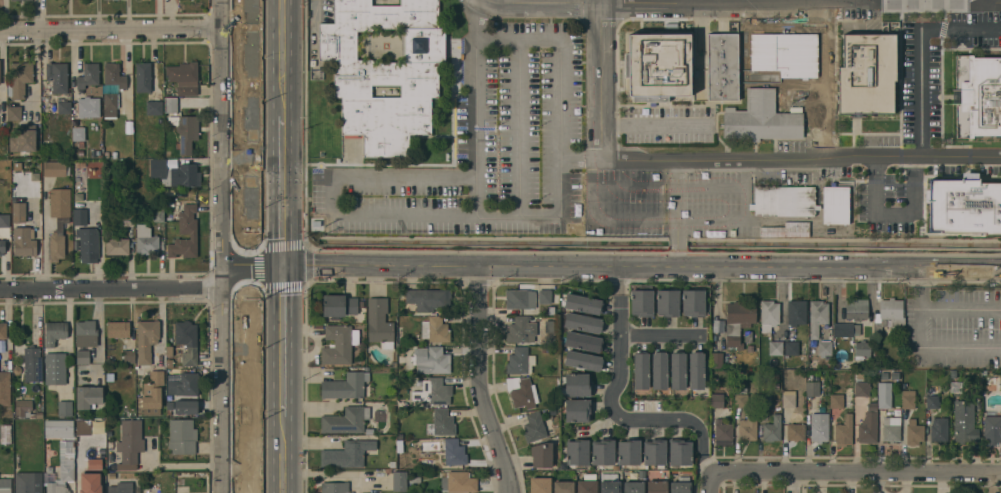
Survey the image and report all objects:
building: (13, 0)
road: (687, 2)
road: (978, 2)
road: (744, 4)
road: (5, 15)
road: (112, 30)
road: (496, 36)
road: (560, 36)
road: (921, 52)
road: (282, 59)
building: (659, 66)
building: (722, 66)
building: (385, 72)
building: (867, 73)
building: (89, 75)
building: (114, 75)
building: (143, 77)
building: (184, 77)
building: (20, 79)
road: (826, 79)
building: (59, 84)
building: (978, 96)
building: (111, 100)
building: (170, 105)
building: (89, 107)
building: (154, 108)
building: (14, 113)
building: (701, 114)
building: (760, 118)
road: (654, 124)
road: (225, 131)
road: (475, 132)
building: (187, 133)
building: (79, 135)
building: (24, 138)
building: (80, 153)
building: (106, 153)
building: (122, 153)
building: (45, 154)
building: (114, 155)
road: (580, 156)
road: (725, 156)
building: (56, 169)
building: (174, 173)
road: (633, 186)
road: (282, 191)
building: (77, 192)
road: (330, 195)
building: (980, 200)
building: (784, 201)
building: (837, 205)
building: (6, 210)
building: (19, 212)
road: (677, 212)
road: (892, 213)
building: (157, 214)
building: (80, 217)
road: (602, 218)
building: (127, 219)
building: (4, 220)
building: (58, 221)
building: (188, 226)
building: (784, 229)
road: (44, 238)
building: (146, 241)
building: (23, 242)
building: (88, 244)
building: (117, 246)
building: (2, 247)
road: (254, 264)
traffic signals: (283, 265)
road: (642, 267)
road: (112, 287)
building: (544, 297)
building: (516, 298)
building: (428, 299)
building: (641, 301)
building: (667, 302)
building: (693, 302)
building: (582, 304)
building: (339, 305)
building: (856, 309)
road: (960, 309)
building: (796, 313)
building: (888, 314)
building: (768, 315)
building: (817, 317)
building: (738, 321)
building: (379, 322)
building: (582, 323)
parking lot: (953, 328)
building: (117, 329)
building: (525, 329)
building: (845, 329)
building: (2, 330)
building: (435, 330)
building: (55, 332)
building: (86, 333)
road: (662, 336)
building: (146, 340)
building: (187, 341)
road: (283, 341)
building: (582, 342)
building: (337, 345)
building: (793, 345)
building: (824, 347)
building: (775, 348)
road: (920, 348)
building: (862, 350)
building: (169, 351)
building: (82, 357)
building: (128, 357)
building: (434, 360)
building: (716, 360)
building: (520, 361)
building: (582, 361)
building: (169, 363)
building: (32, 364)
building: (16, 368)
building: (55, 368)
building: (659, 370)
building: (677, 370)
building: (696, 370)
building: (641, 371)
road: (225, 378)
road: (479, 381)
building: (1000, 383)
building: (183, 384)
building: (577, 385)
building: (345, 386)
building: (5, 388)
building: (433, 392)
building: (522, 392)
building: (152, 393)
building: (811, 393)
building: (88, 396)
building: (788, 398)
building: (932, 398)
building: (907, 399)
building: (764, 400)
building: (716, 401)
building: (740, 401)
building: (22, 407)
building: (185, 407)
road: (614, 407)
building: (64, 409)
building: (871, 409)
building: (577, 410)
building: (835, 410)
building: (880, 413)
building: (39, 414)
building: (32, 415)
building: (345, 420)
building: (442, 422)
building: (964, 422)
building: (101, 423)
building: (88, 427)
building: (534, 427)
building: (748, 427)
building: (59, 428)
building: (772, 428)
building: (992, 429)
building: (818, 430)
building: (939, 430)
building: (795, 432)
building: (914, 432)
building: (5, 433)
building: (723, 433)
building: (182, 436)
building: (130, 440)
building: (110, 444)
building: (82, 449)
building: (455, 452)
building: (577, 452)
building: (603, 452)
building: (628, 452)
building: (654, 452)
building: (679, 452)
building: (347, 454)
road: (283, 455)
building: (544, 455)
building: (63, 468)
building: (81, 473)
road: (858, 473)
building: (158, 475)
building: (180, 481)
building: (399, 481)
building: (28, 482)
building: (459, 482)
building: (587, 483)
building: (609, 483)
road: (714, 483)
building: (95, 485)
building: (540, 485)
building: (681, 485)
building: (334, 487)
building: (563, 487)
building: (633, 487)
building: (656, 487)
building: (121, 488)
building: (183, 489)
building: (5, 490)
building: (155, 490)

